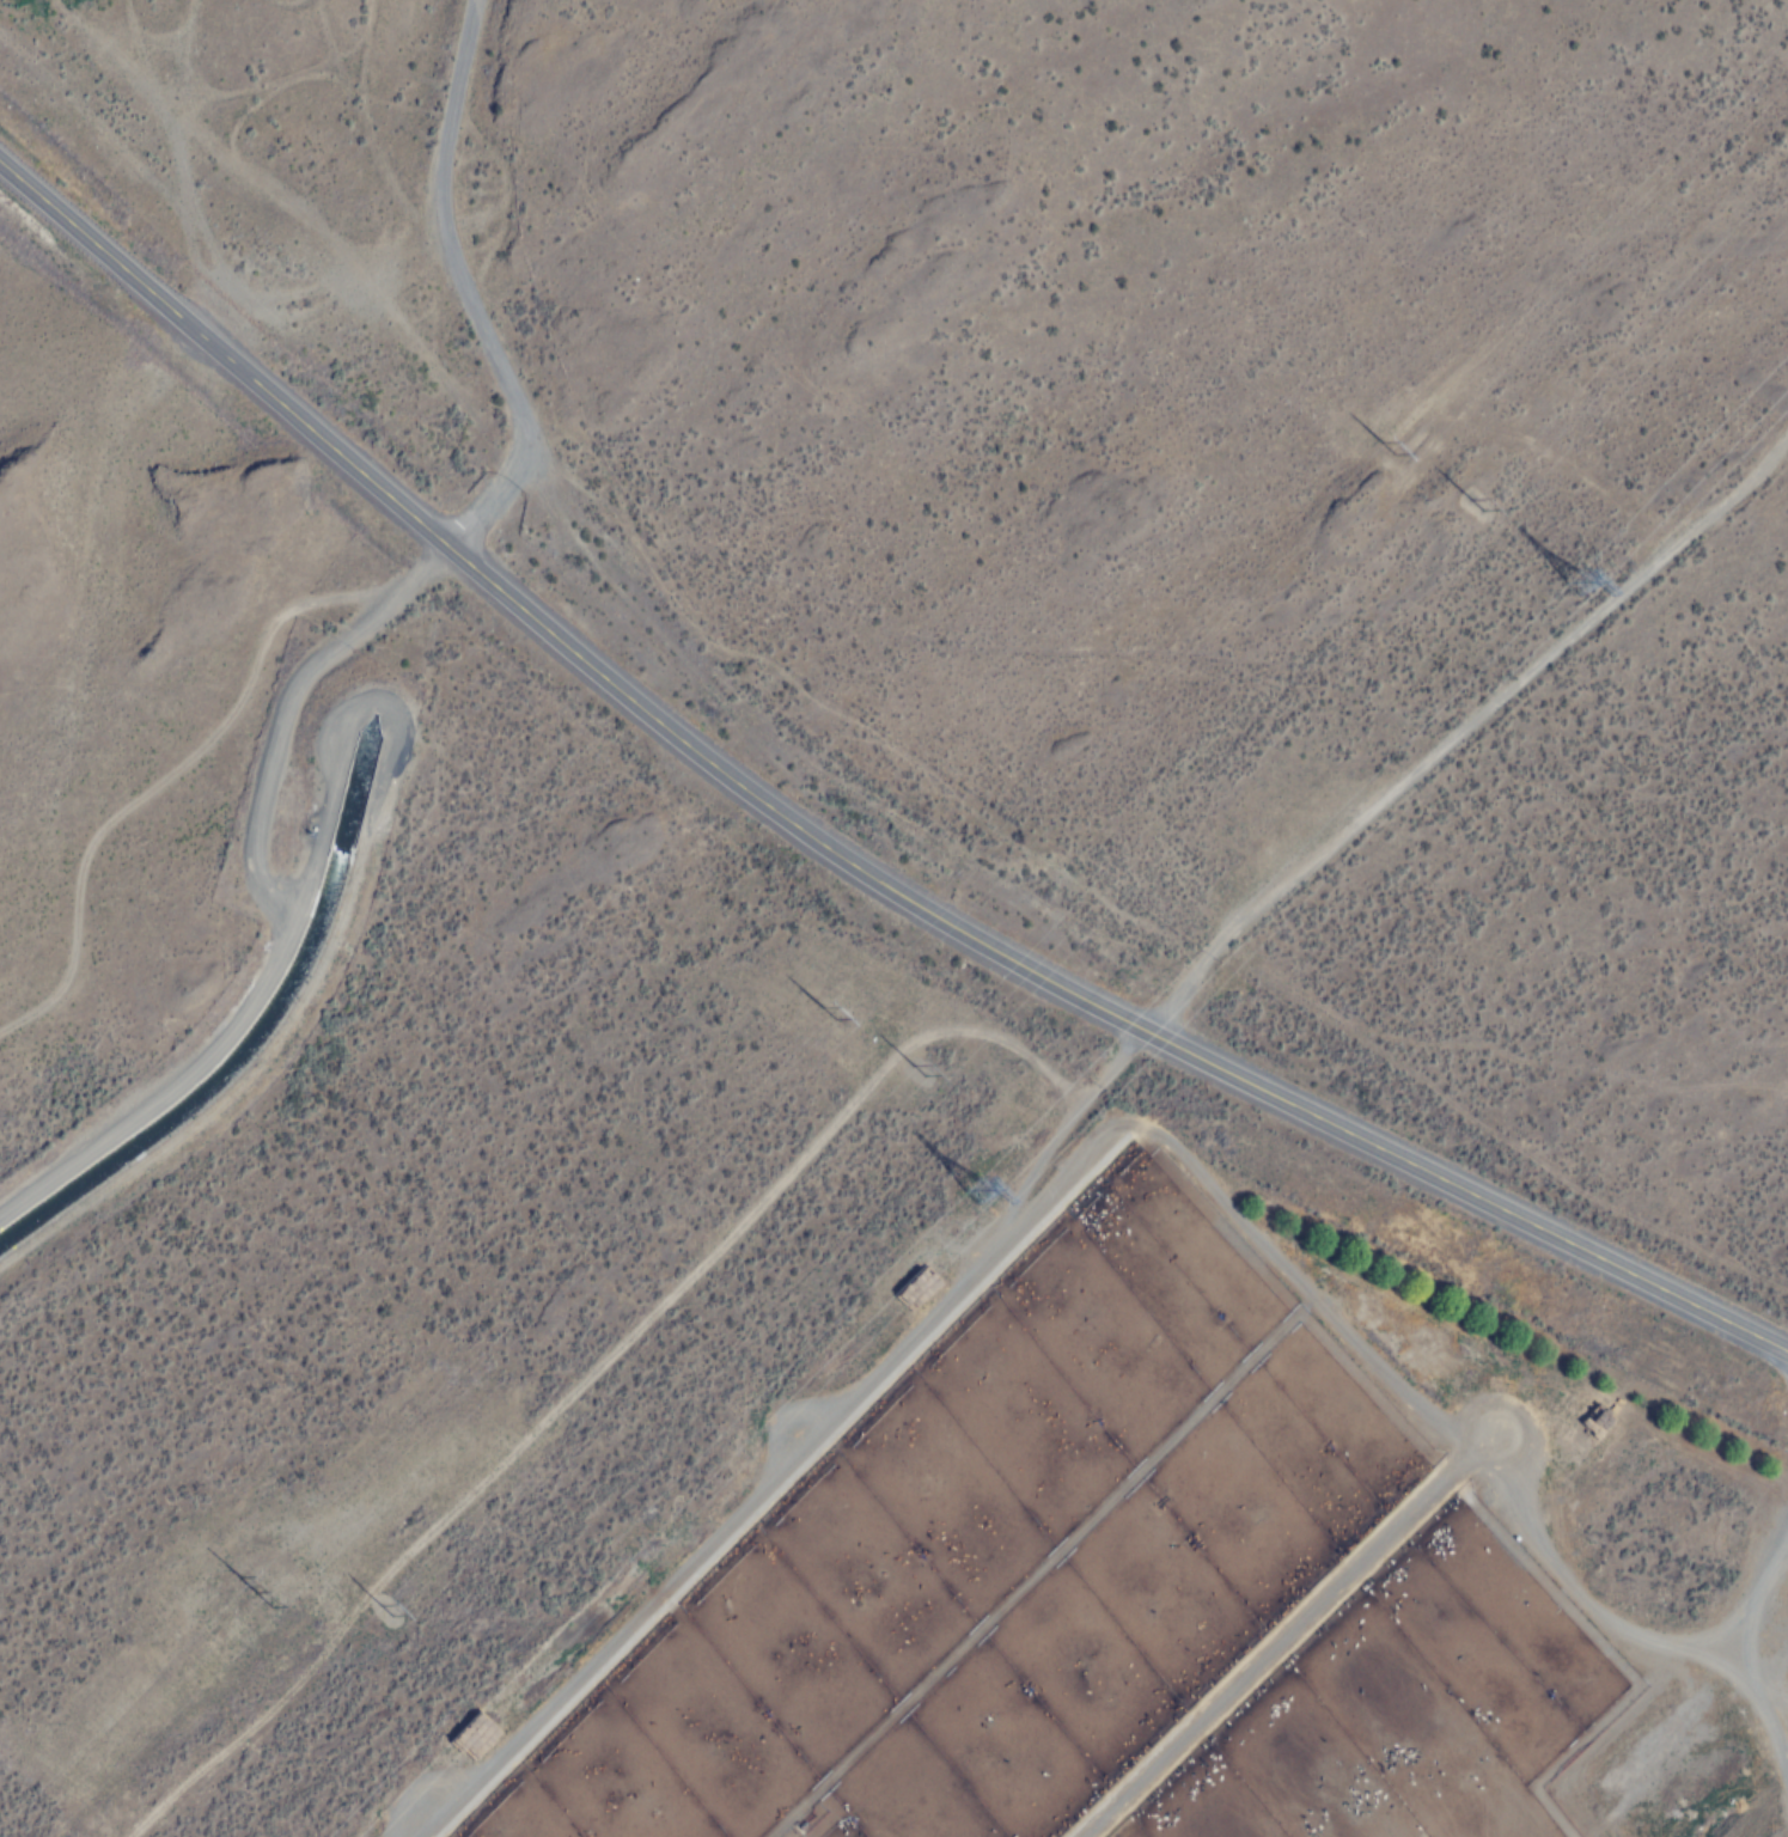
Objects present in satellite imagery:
road: (474, 293)
power tower: (1477, 505)
power tower: (1581, 569)
road: (287, 703)
road: (830, 847)
power tower: (921, 1073)
power tower: (972, 1189)
power tower: (389, 1611)

